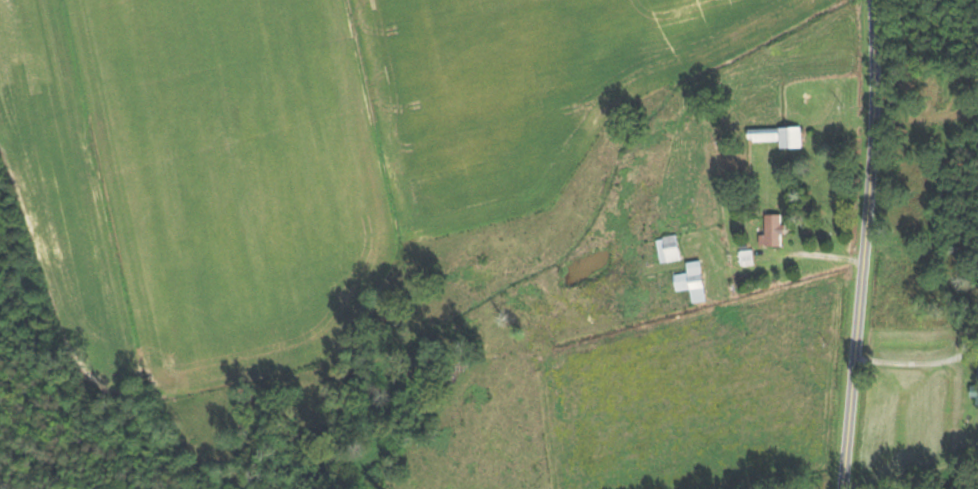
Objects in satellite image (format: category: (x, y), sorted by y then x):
building: (781, 136)
building: (776, 231)
road: (865, 244)
building: (672, 250)
building: (748, 259)
building: (694, 283)

